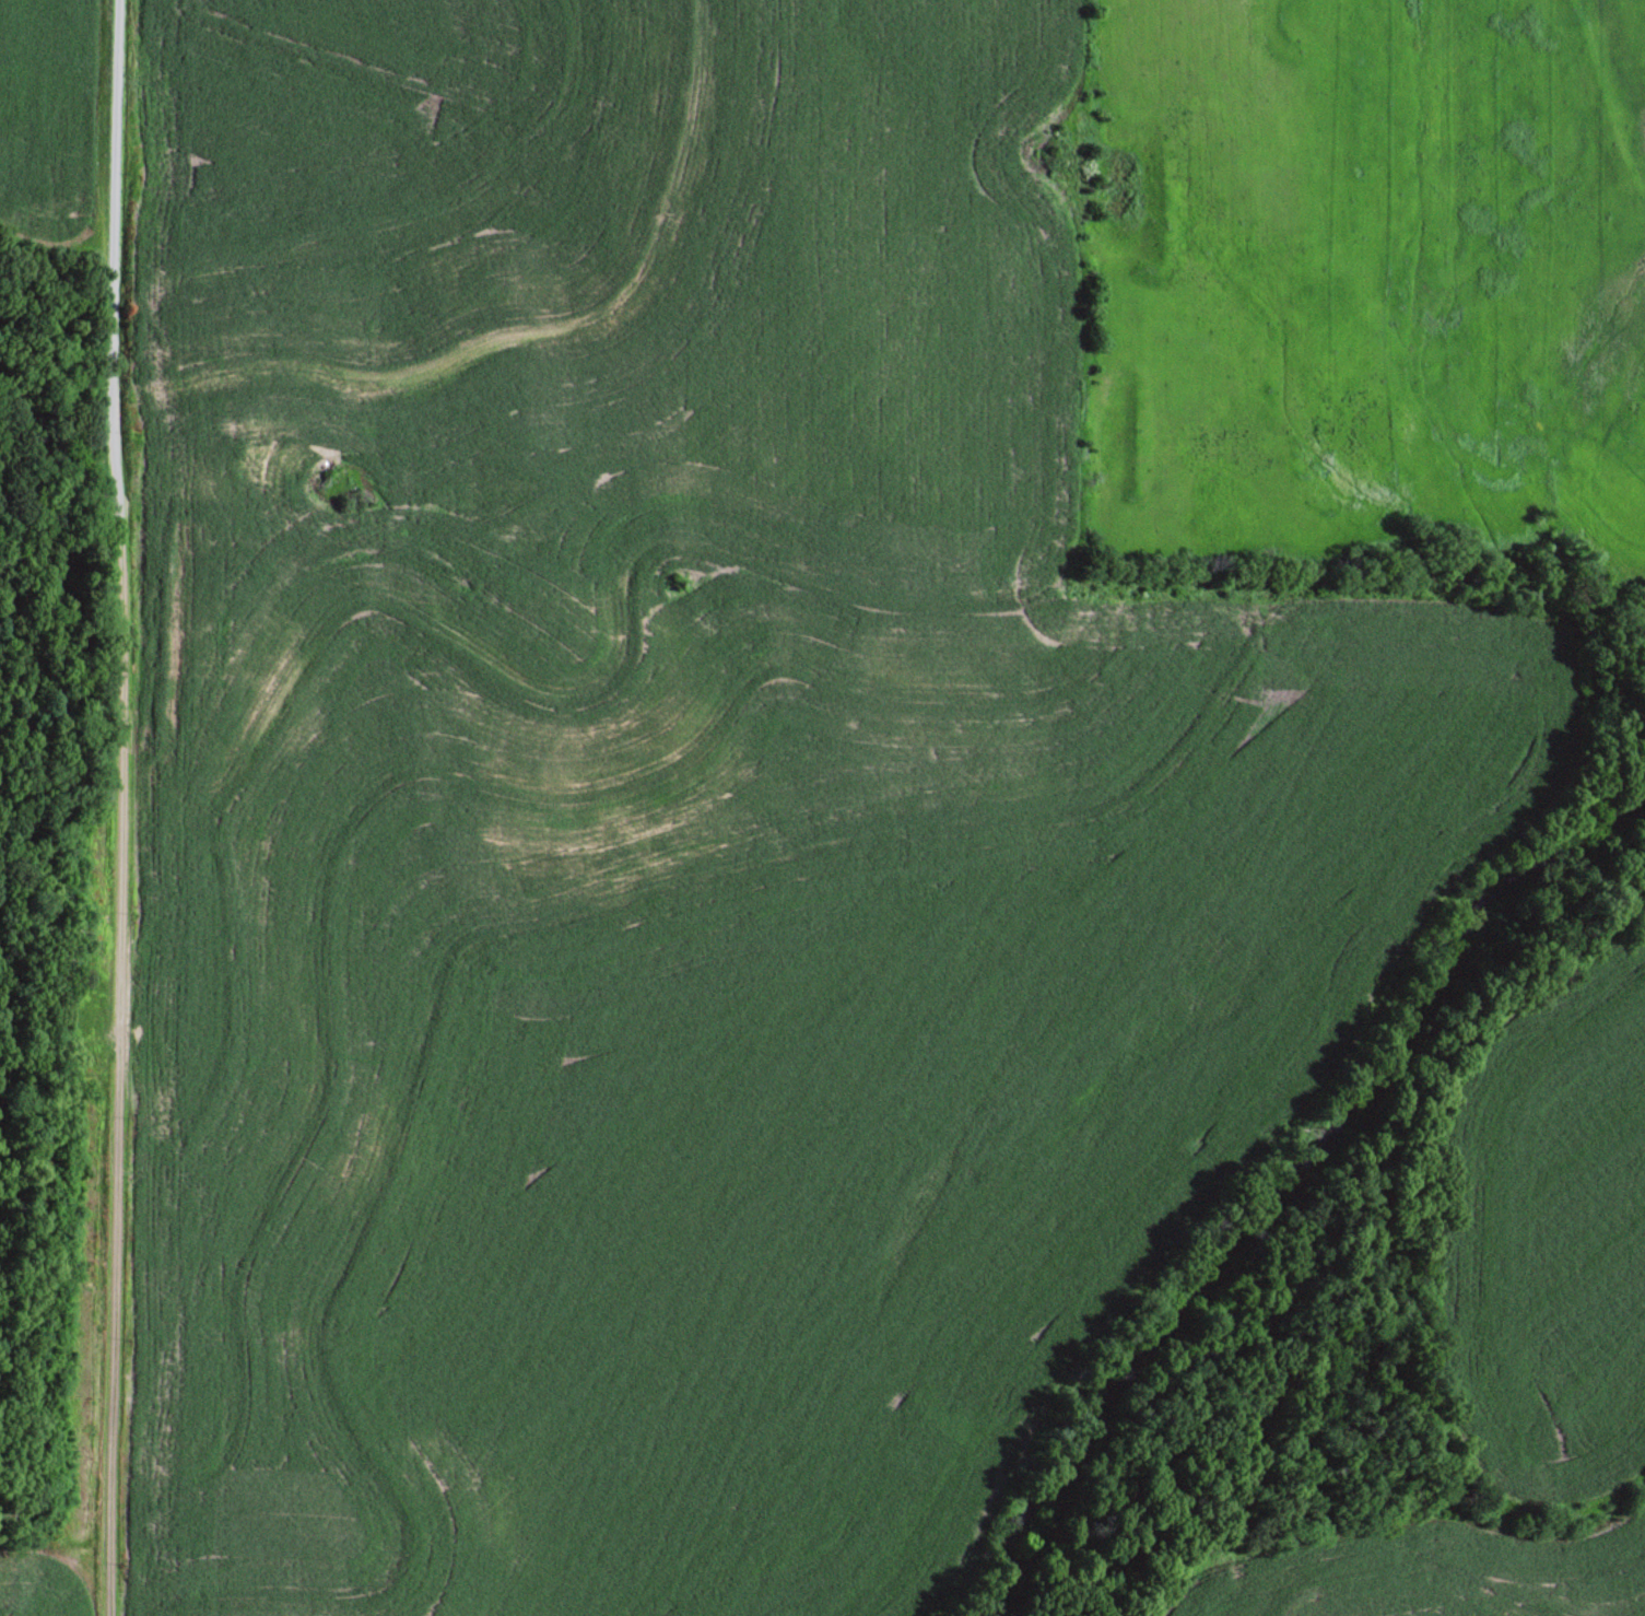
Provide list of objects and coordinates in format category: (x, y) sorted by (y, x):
road: (121, 808)

